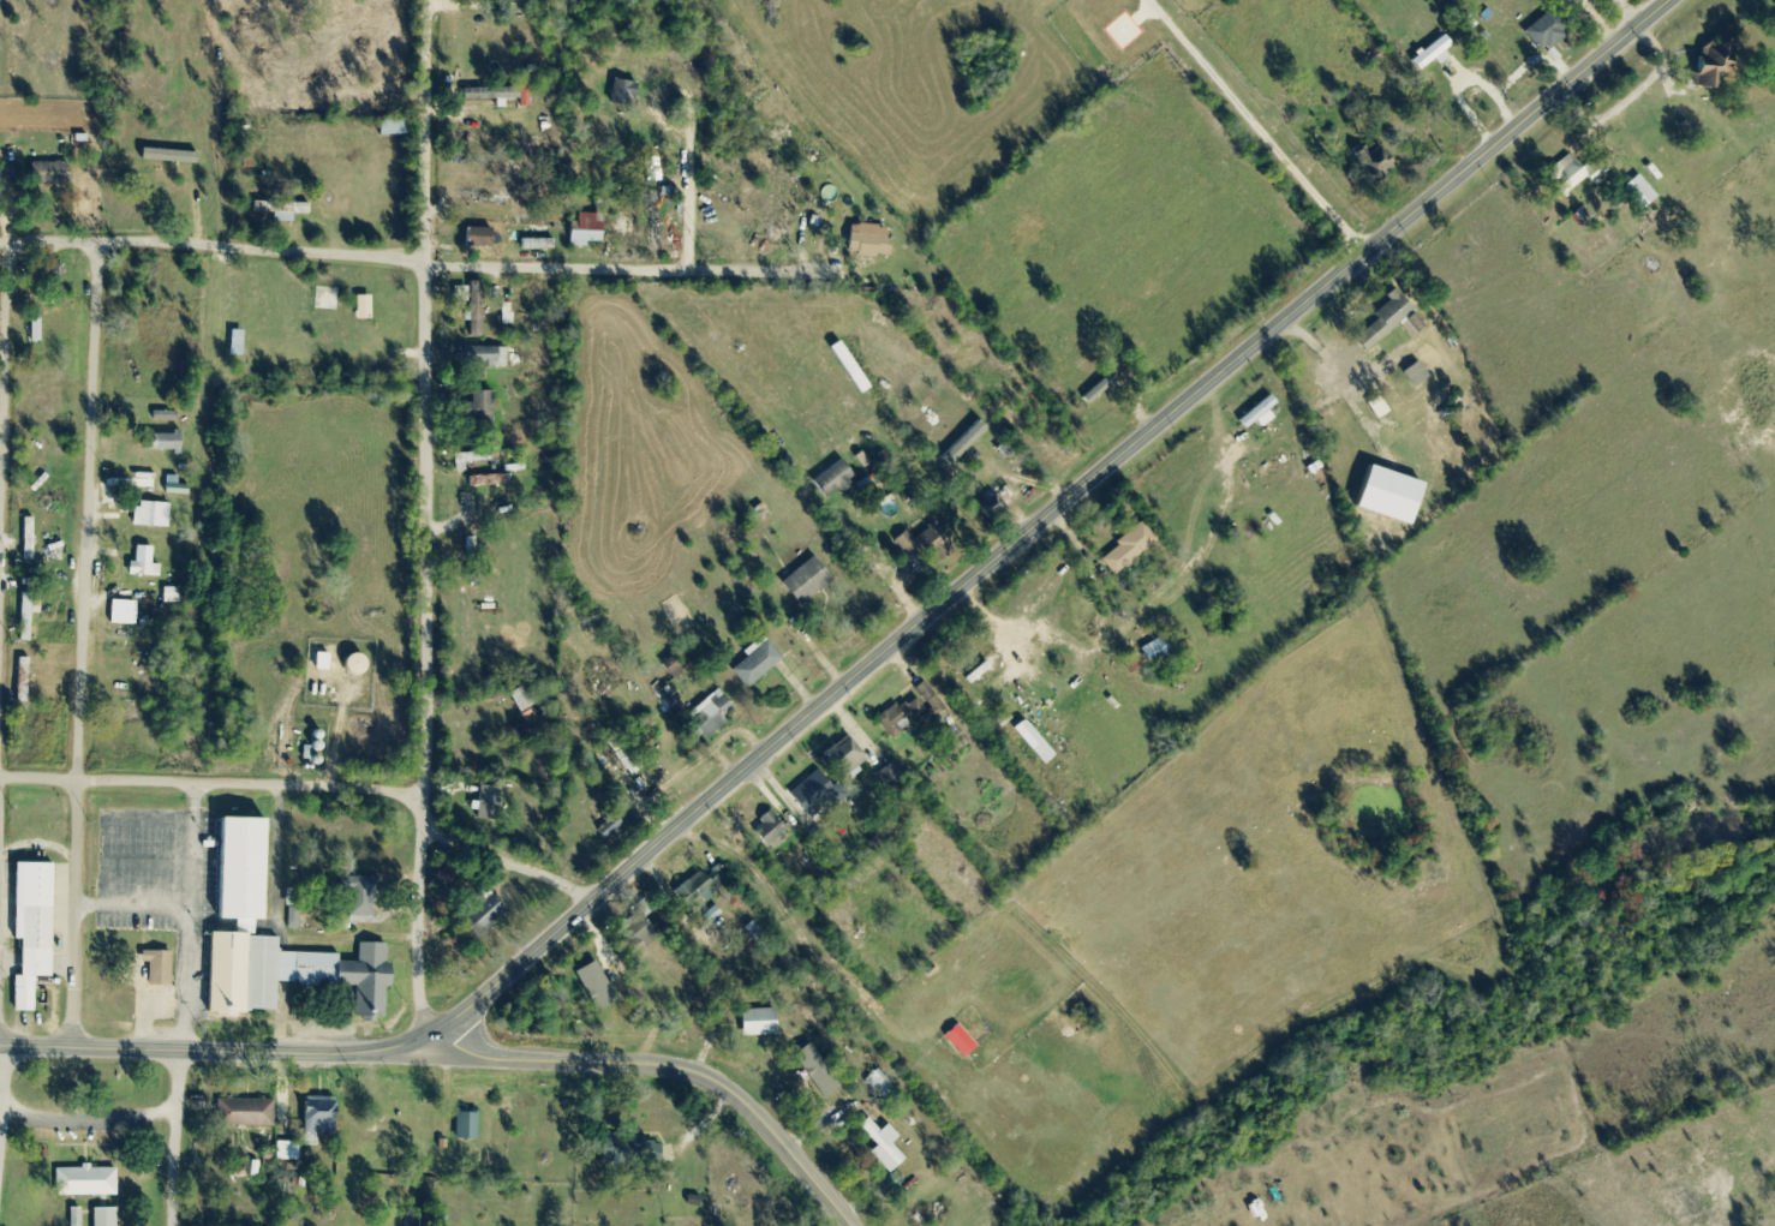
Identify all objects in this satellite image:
building: (1774, 24)
building: (1547, 30)
building: (1709, 65)
building: (621, 92)
building: (392, 126)
building: (473, 131)
road: (426, 133)
building: (1371, 162)
building: (1571, 173)
building: (53, 174)
building: (1637, 192)
building: (482, 195)
building: (281, 209)
road: (687, 209)
building: (623, 225)
building: (584, 229)
building: (477, 237)
building: (778, 237)
building: (867, 240)
road: (5, 243)
road: (53, 243)
road: (466, 268)
building: (474, 309)
building: (1382, 319)
building: (1411, 324)
building: (40, 333)
building: (483, 355)
building: (1414, 373)
road: (2, 379)
building: (479, 408)
road: (1126, 445)
building: (1051, 456)
building: (898, 480)
building: (996, 501)
building: (154, 516)
building: (31, 540)
building: (925, 543)
building: (1126, 548)
building: (148, 564)
building: (803, 581)
railway: (70, 612)
building: (29, 618)
road: (83, 644)
building: (1155, 648)
road: (423, 658)
building: (754, 664)
building: (981, 672)
building: (25, 682)
building: (520, 698)
building: (709, 714)
building: (900, 716)
building: (620, 750)
building: (842, 756)
road: (312, 784)
building: (814, 791)
building: (609, 819)
building: (769, 830)
building: (699, 886)
building: (227, 896)
building: (358, 896)
building: (479, 911)
building: (638, 929)
building: (40, 931)
building: (161, 969)
building: (757, 1022)
road: (323, 1052)
road: (667, 1069)
building: (817, 1074)
building: (879, 1084)
road: (0, 1088)
building: (238, 1099)
building: (473, 1114)
building: (317, 1116)
road: (88, 1123)
road: (175, 1138)
building: (881, 1141)
building: (629, 1149)
building: (90, 1183)
building: (109, 1218)

